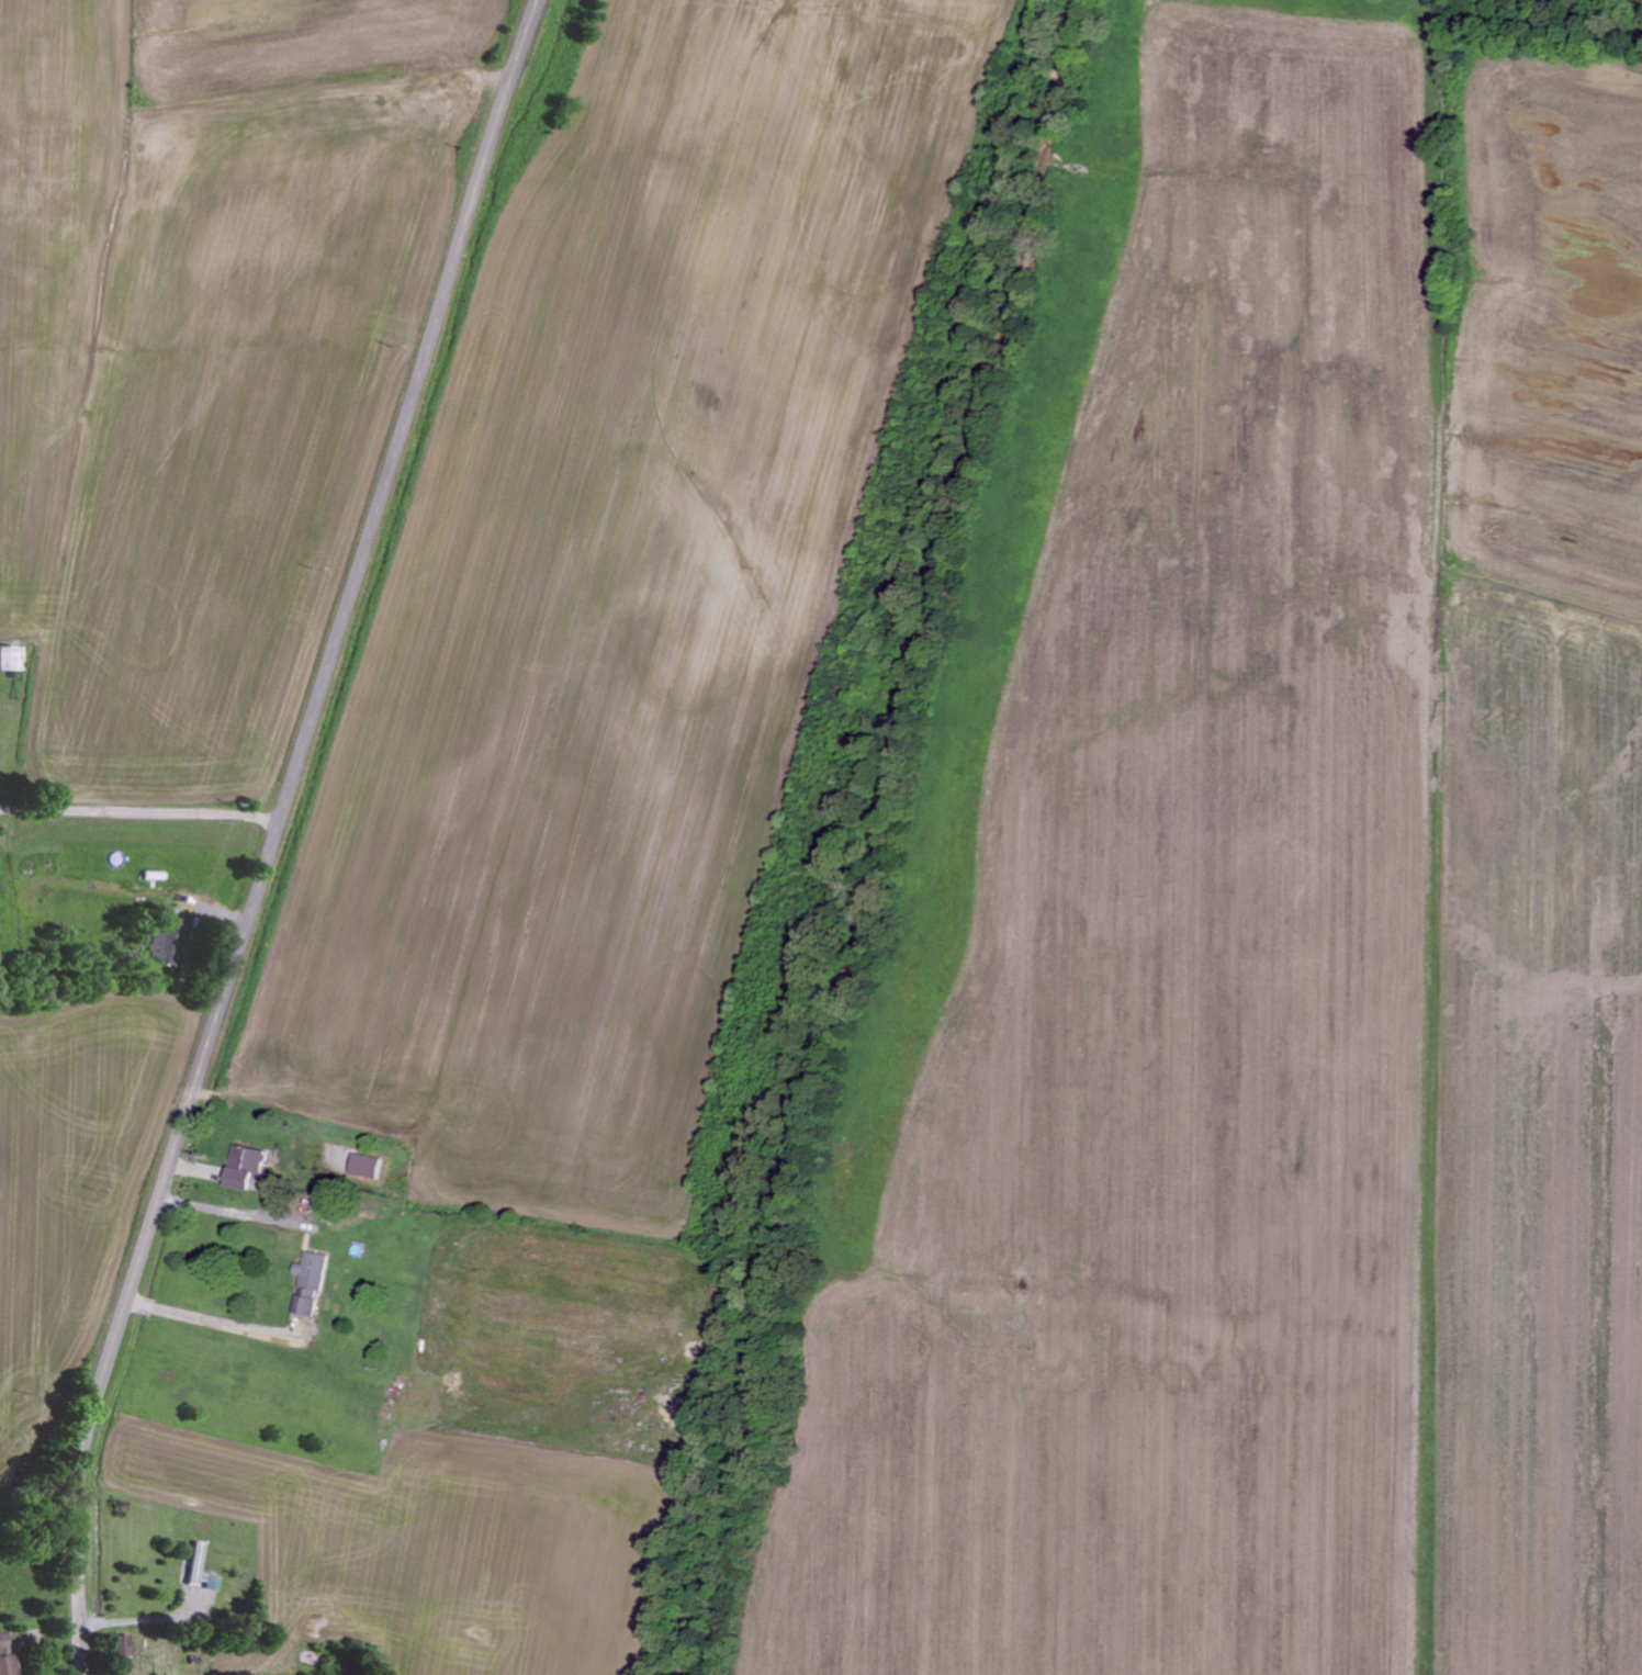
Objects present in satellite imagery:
building: (11, 659)
road: (148, 768)
road: (275, 832)
building: (166, 937)
building: (363, 1167)
building: (243, 1168)
building: (308, 1284)
building: (194, 1565)
building: (210, 1583)
building: (117, 1646)
building: (3, 1655)

